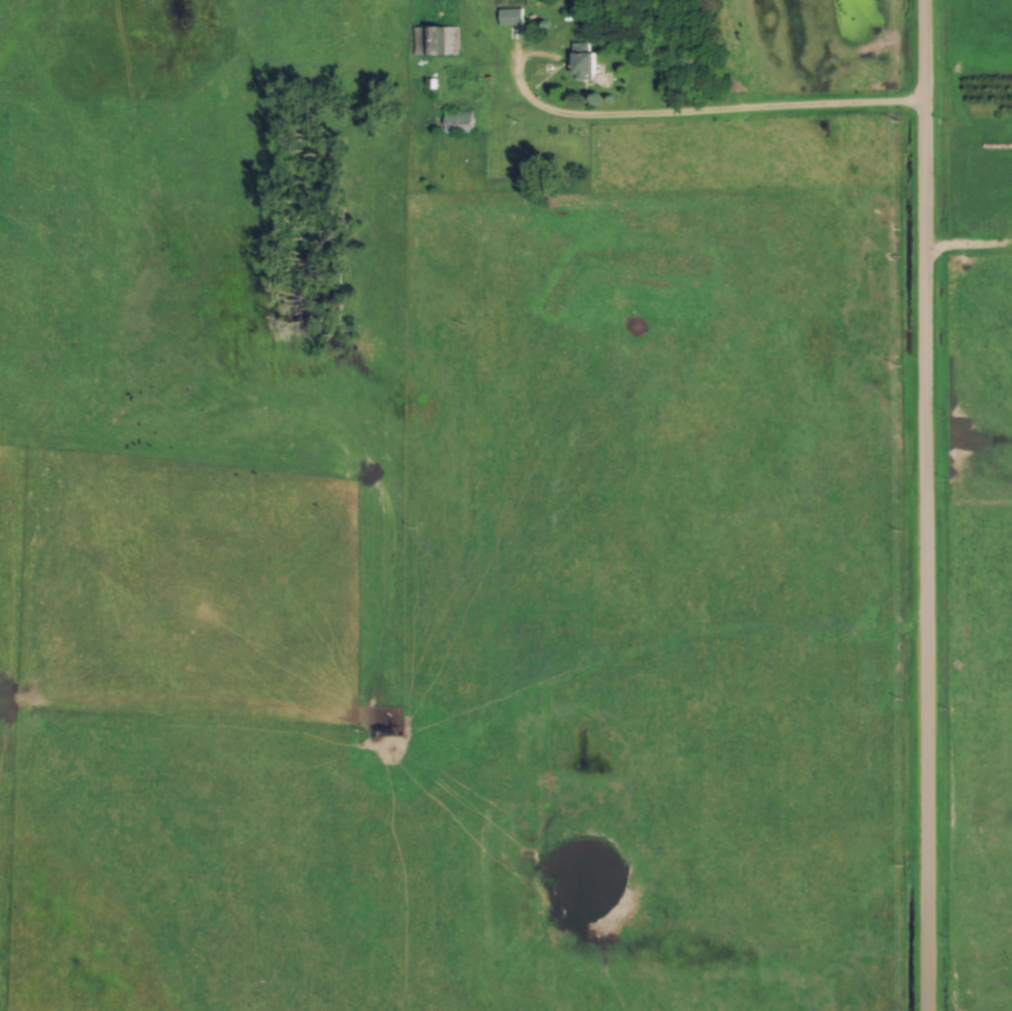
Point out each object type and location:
building: (509, 18)
building: (433, 41)
building: (578, 63)
road: (698, 118)
building: (456, 122)
road: (967, 253)
road: (924, 505)

